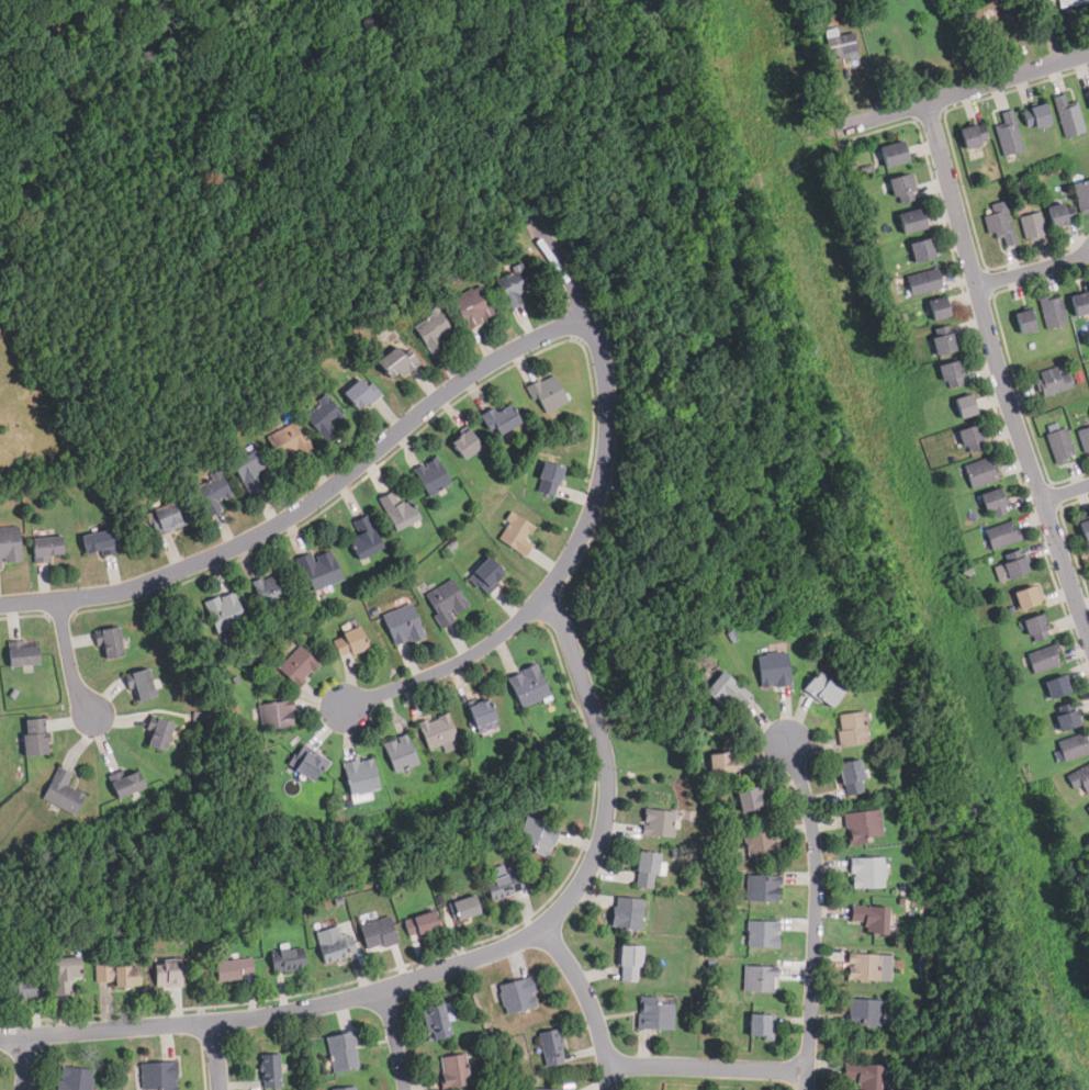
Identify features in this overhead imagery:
building: (1073, 2)
building: (841, 44)
road: (967, 90)
building: (1088, 91)
building: (1037, 115)
building: (1070, 116)
building: (1010, 133)
building: (973, 135)
building: (894, 154)
park: (296, 161)
building: (903, 189)
building: (1082, 194)
building: (1059, 214)
building: (911, 221)
building: (1001, 223)
building: (1033, 226)
building: (922, 250)
road: (1033, 270)
building: (923, 282)
building: (513, 285)
building: (1080, 303)
building: (473, 306)
building: (939, 307)
building: (1053, 312)
building: (1024, 322)
building: (431, 329)
building: (945, 342)
building: (396, 361)
road: (999, 370)
building: (951, 374)
building: (1054, 382)
building: (360, 392)
building: (548, 393)
building: (964, 405)
building: (323, 416)
building: (501, 418)
building: (972, 438)
building: (1085, 439)
building: (464, 442)
building: (289, 443)
building: (1062, 446)
building: (983, 471)
building: (252, 472)
building: (431, 475)
building: (548, 479)
building: (212, 492)
road: (1066, 492)
road: (313, 502)
building: (993, 503)
building: (398, 509)
building: (166, 517)
road: (585, 529)
building: (1085, 529)
building: (516, 533)
building: (1003, 535)
building: (364, 538)
building: (98, 542)
building: (10, 544)
building: (46, 548)
building: (1015, 566)
building: (319, 569)
building: (485, 575)
building: (270, 592)
building: (1028, 597)
building: (446, 602)
building: (224, 611)
building: (402, 625)
building: (1036, 628)
building: (349, 641)
building: (111, 642)
building: (22, 653)
building: (1044, 658)
road: (70, 661)
building: (297, 665)
building: (774, 668)
building: (142, 684)
building: (527, 685)
building: (1058, 686)
building: (824, 688)
building: (727, 689)
building: (277, 715)
building: (482, 716)
building: (1067, 719)
building: (852, 728)
building: (437, 730)
building: (159, 733)
building: (33, 737)
building: (1074, 746)
building: (401, 753)
building: (723, 763)
building: (308, 764)
building: (360, 775)
building: (852, 777)
building: (1079, 777)
building: (126, 784)
building: (63, 791)
building: (749, 799)
building: (1088, 809)
building: (660, 823)
building: (864, 824)
building: (538, 836)
building: (762, 842)
building: (647, 869)
building: (867, 873)
building: (503, 886)
building: (763, 888)
building: (464, 908)
building: (627, 913)
road: (816, 914)
building: (871, 918)
building: (420, 924)
building: (379, 934)
building: (763, 934)
building: (335, 945)
building: (289, 959)
building: (630, 964)
road: (452, 965)
building: (864, 968)
building: (234, 969)
building: (168, 974)
building: (119, 975)
building: (65, 976)
building: (23, 980)
building: (760, 980)
building: (518, 996)
road: (590, 1002)
building: (865, 1013)
building: (656, 1014)
building: (437, 1022)
building: (760, 1027)
road: (395, 1040)
building: (551, 1047)
building: (344, 1052)
road: (217, 1056)
road: (23, 1063)
road: (706, 1066)
building: (271, 1070)
building: (454, 1071)
building: (864, 1075)
building: (159, 1076)
building: (74, 1078)
building: (346, 1089)
building: (549, 1089)

